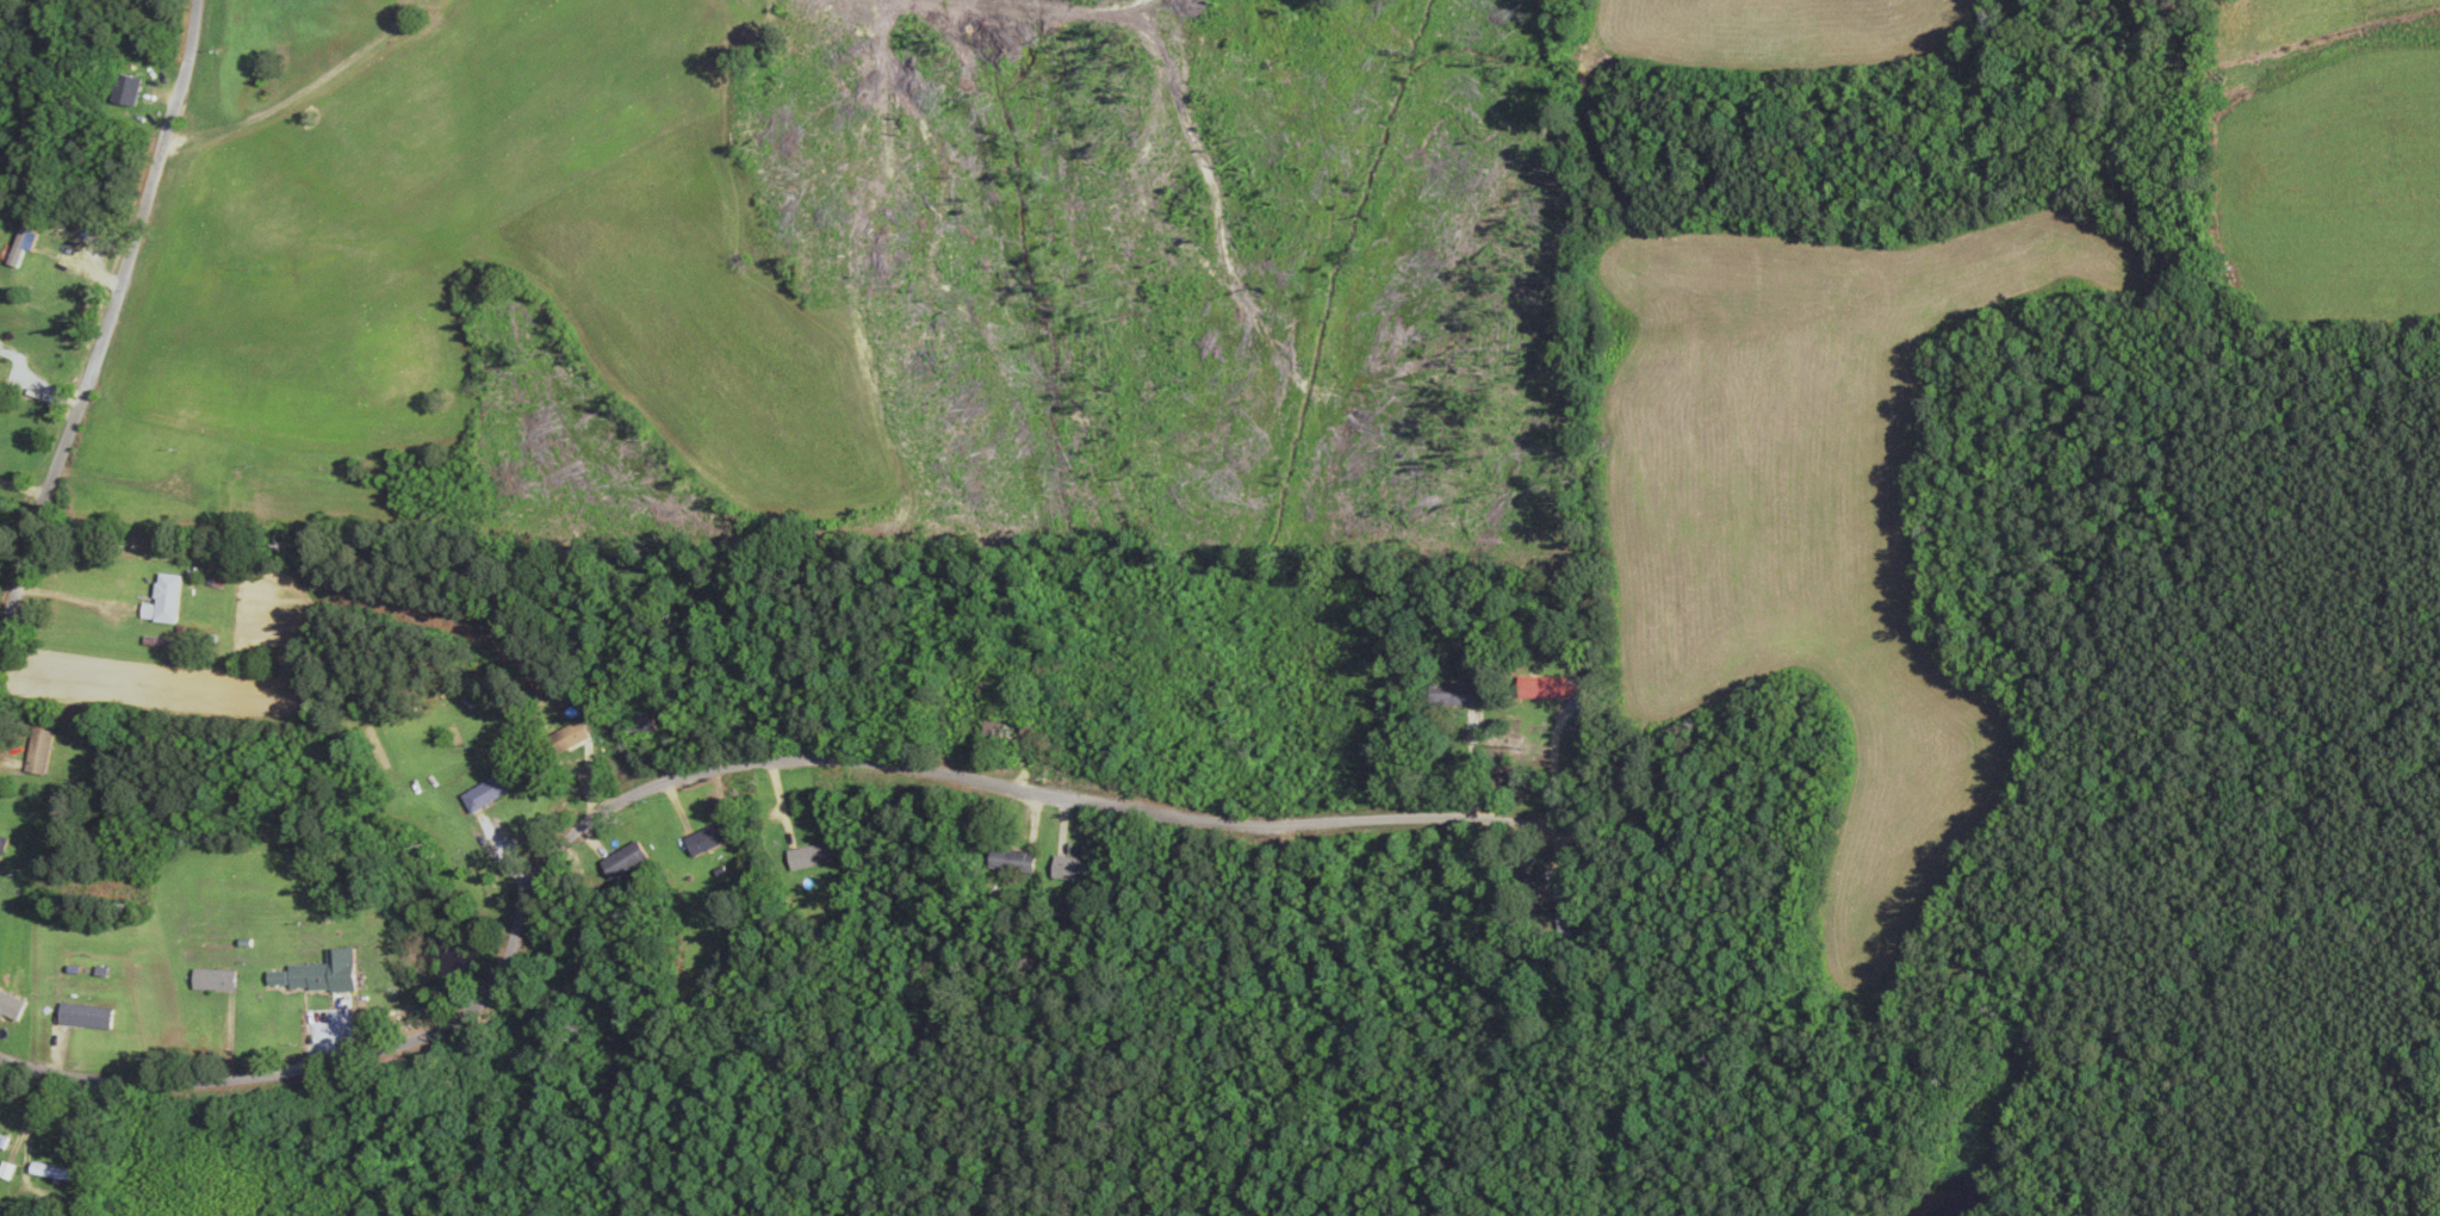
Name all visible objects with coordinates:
building: (120, 92)
road: (100, 335)
building: (222, 498)
building: (160, 601)
building: (1529, 689)
building: (1452, 696)
building: (637, 725)
building: (1004, 731)
building: (559, 742)
building: (35, 751)
building: (482, 794)
road: (653, 811)
building: (703, 839)
building: (1, 843)
building: (811, 856)
building: (620, 861)
building: (1008, 862)
building: (1068, 873)
building: (321, 974)
building: (209, 980)
building: (81, 1017)
building: (1, 1142)
building: (48, 1173)

